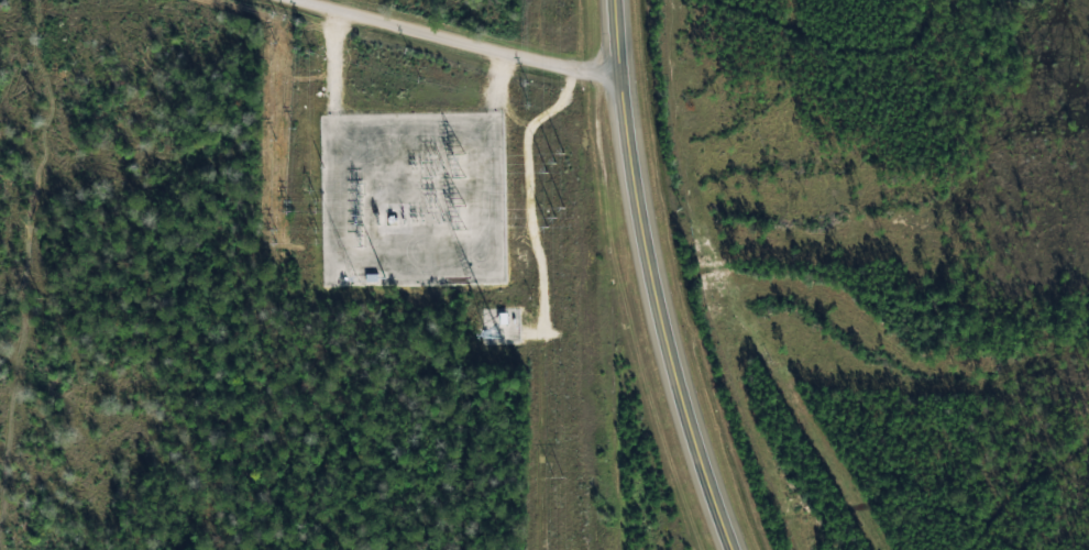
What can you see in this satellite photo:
road: (499, 32)
power substation: (415, 198)
road: (656, 279)

